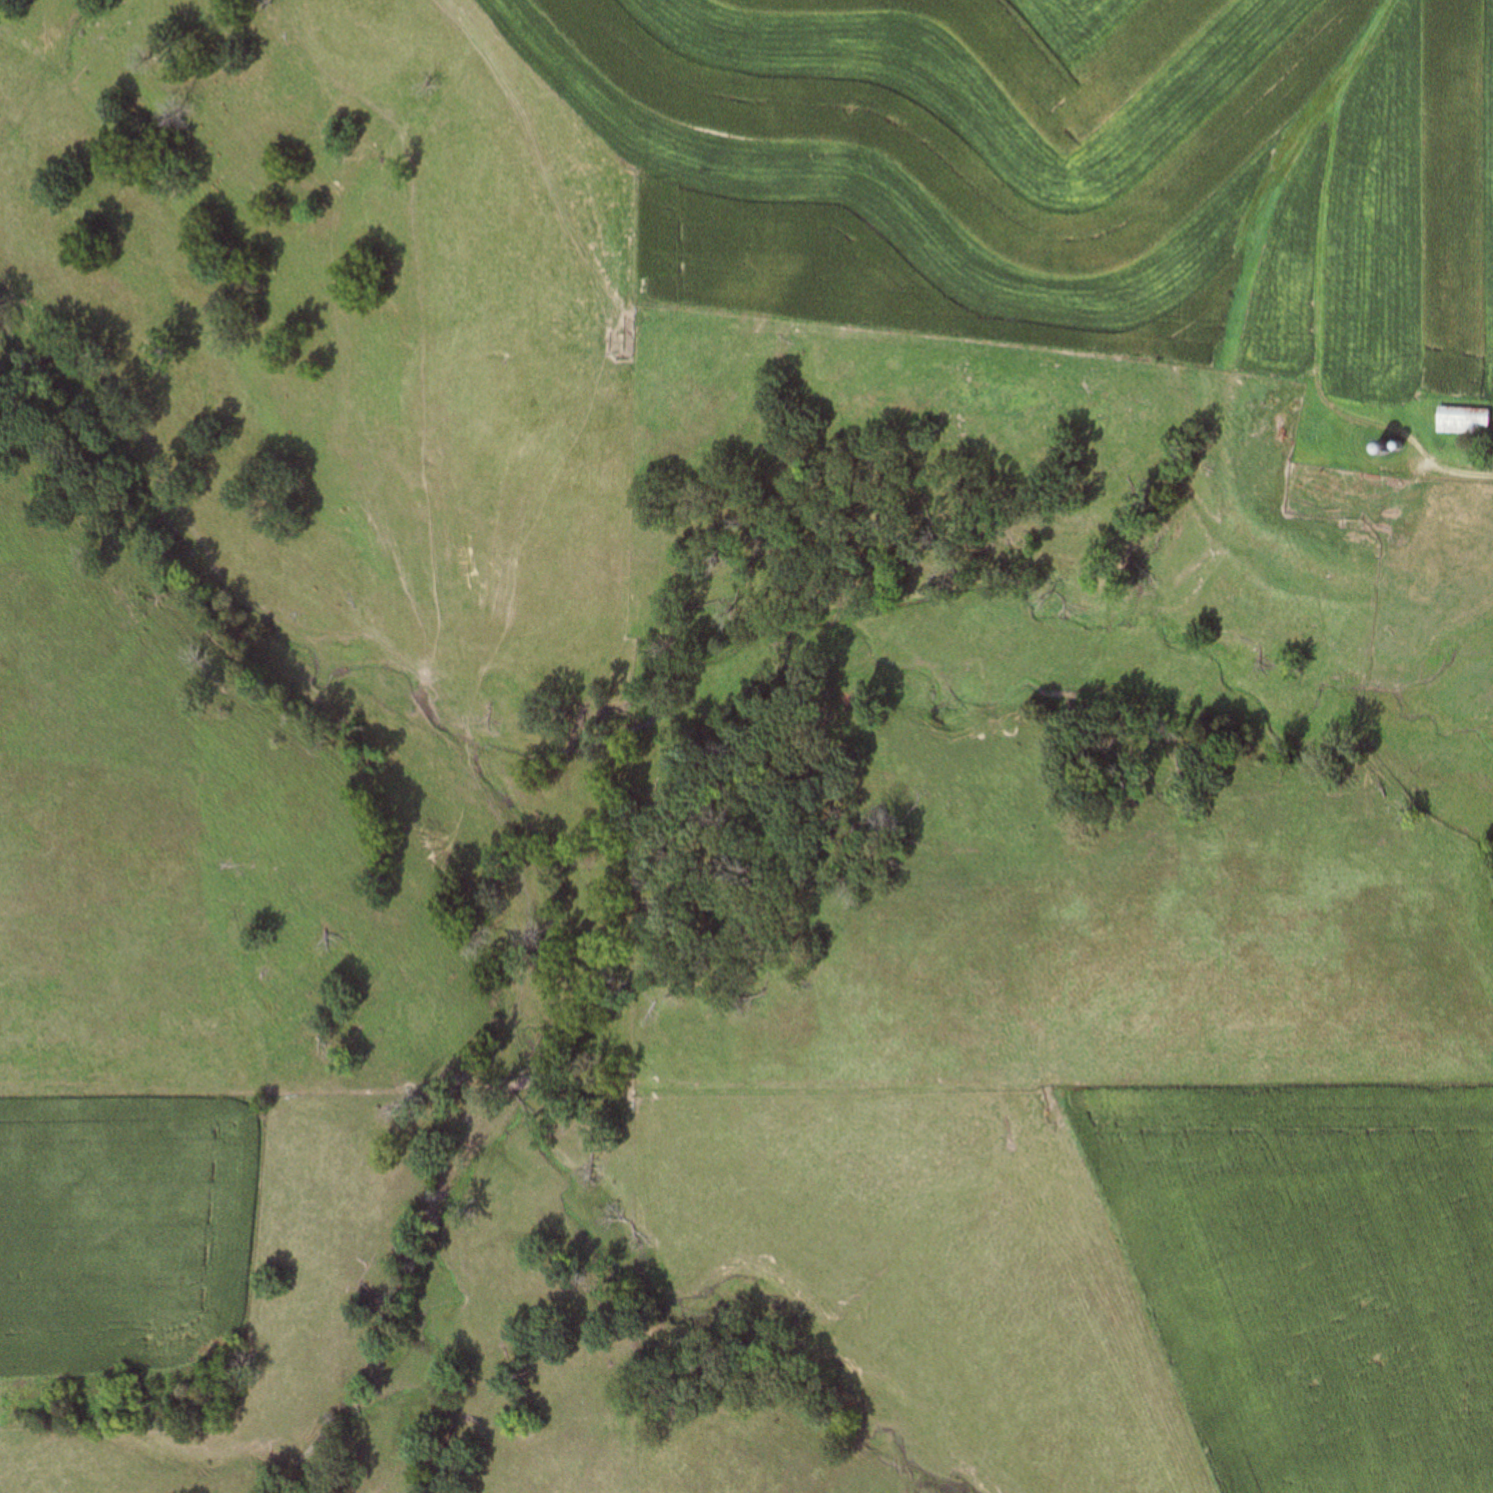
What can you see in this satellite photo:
building: (1460, 421)

